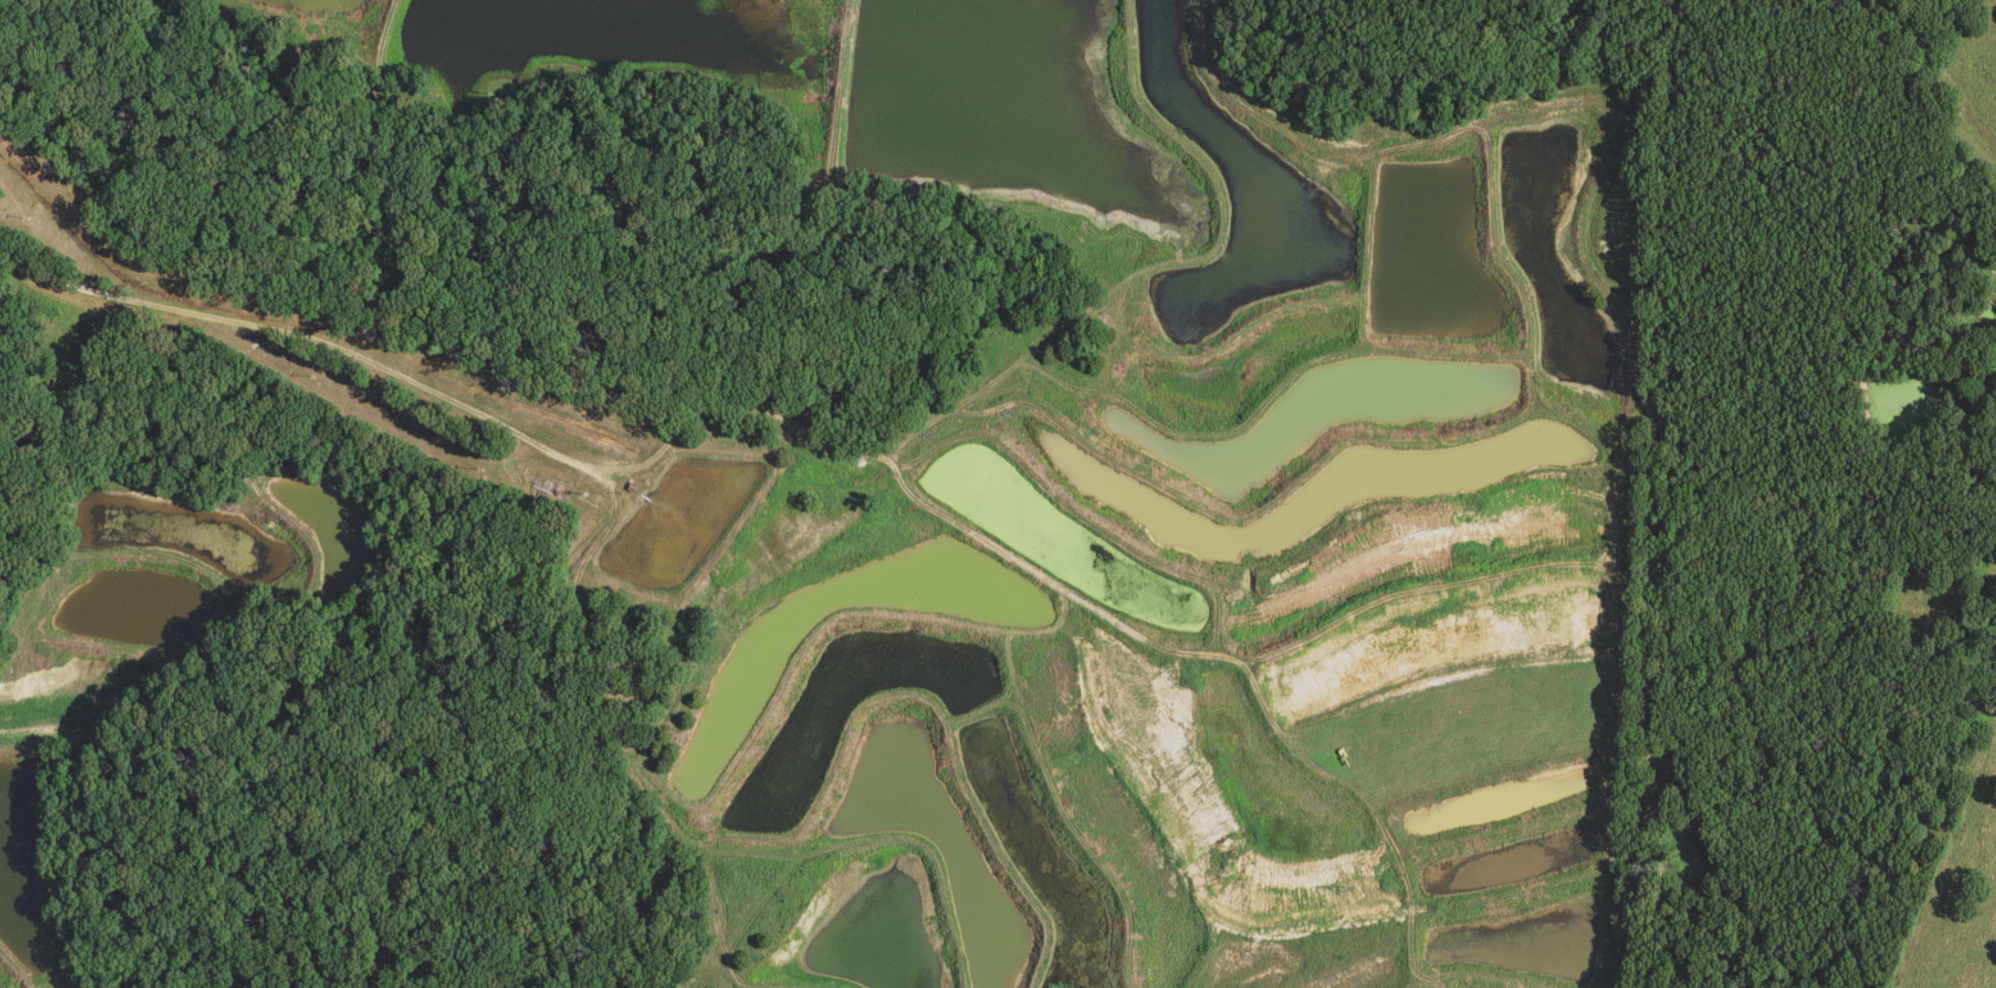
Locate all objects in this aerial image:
road: (291, 350)

